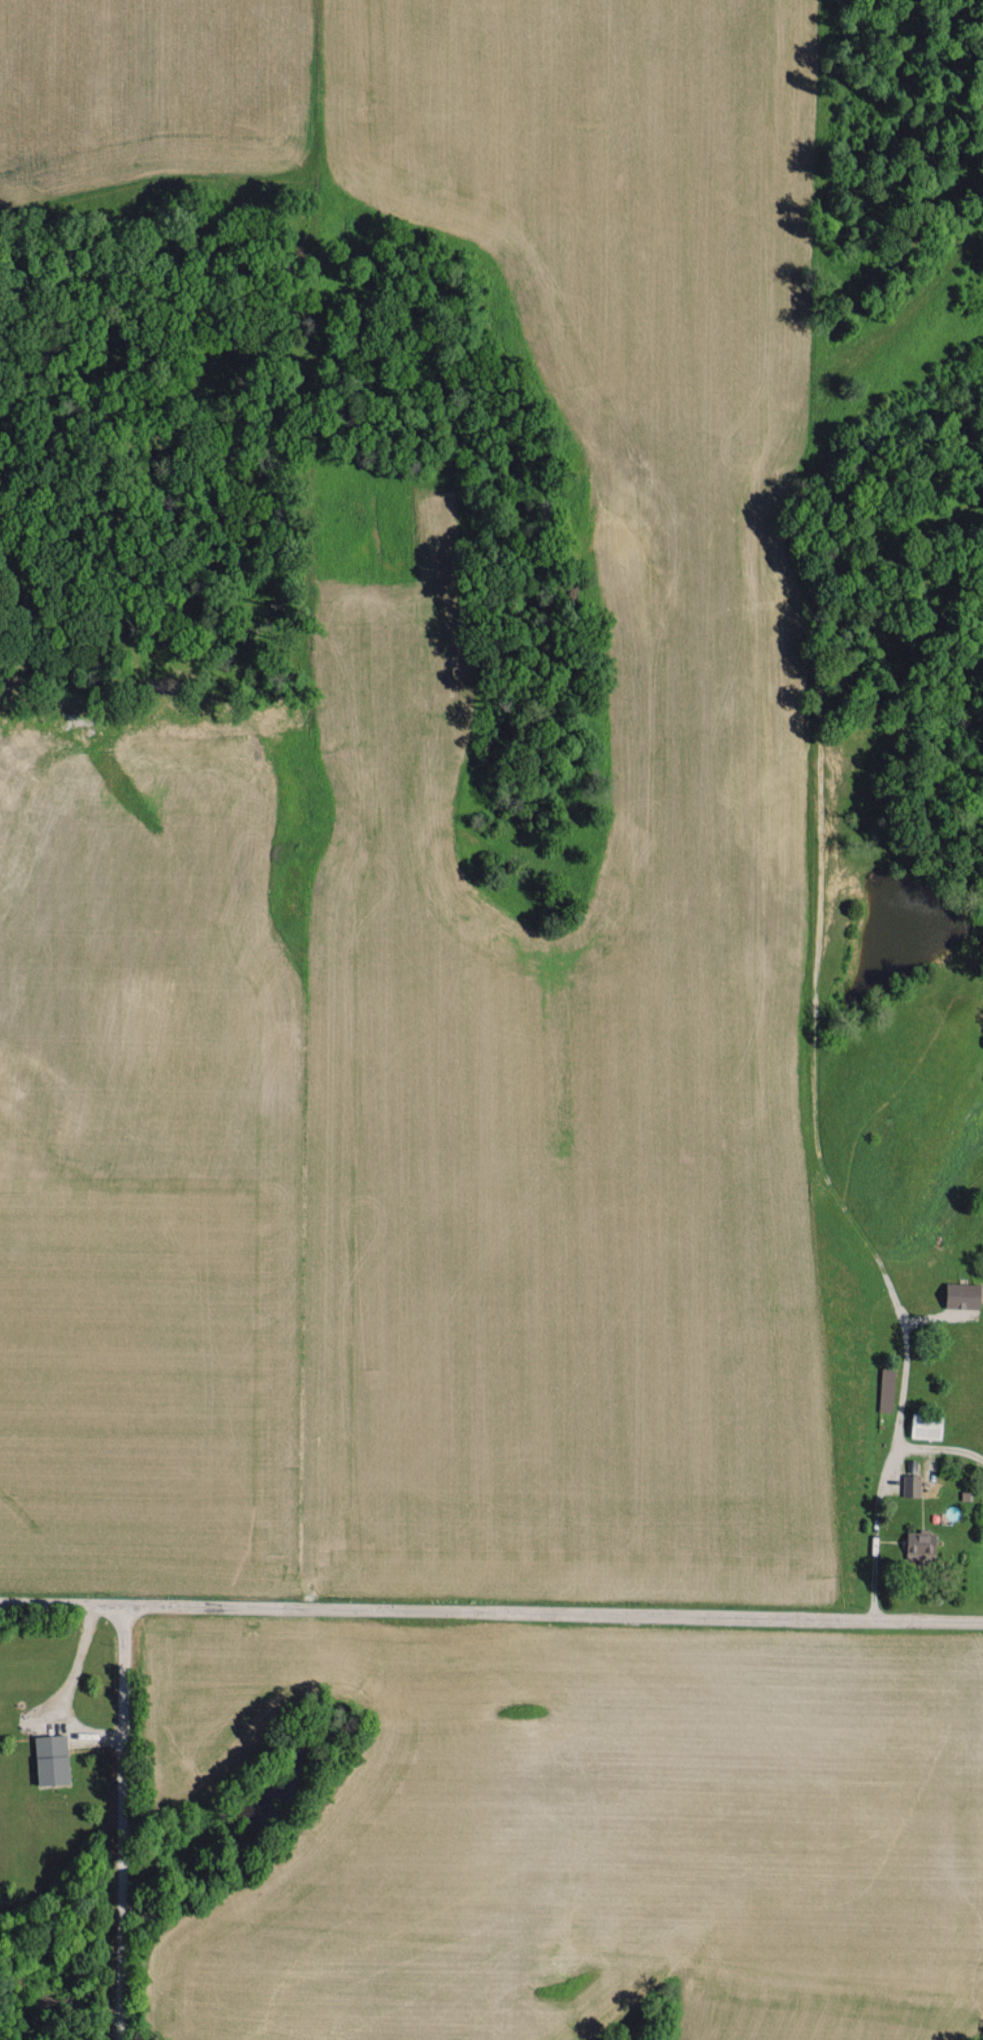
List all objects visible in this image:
building: (964, 1294)
building: (887, 1389)
building: (927, 1425)
building: (911, 1484)
building: (921, 1544)
road: (491, 1609)
building: (52, 1758)
road: (123, 1822)

